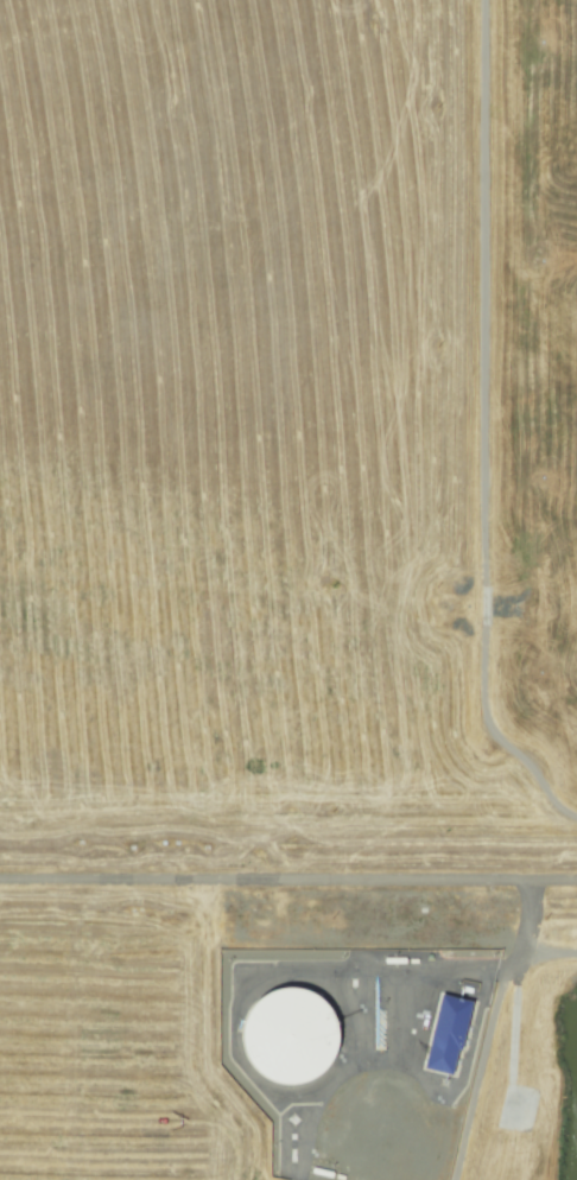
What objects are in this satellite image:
road: (481, 427)
railway: (288, 873)
road: (287, 881)
road: (550, 949)
road: (487, 1028)
building: (448, 1032)
building: (290, 1039)
storage tank: (290, 1039)

